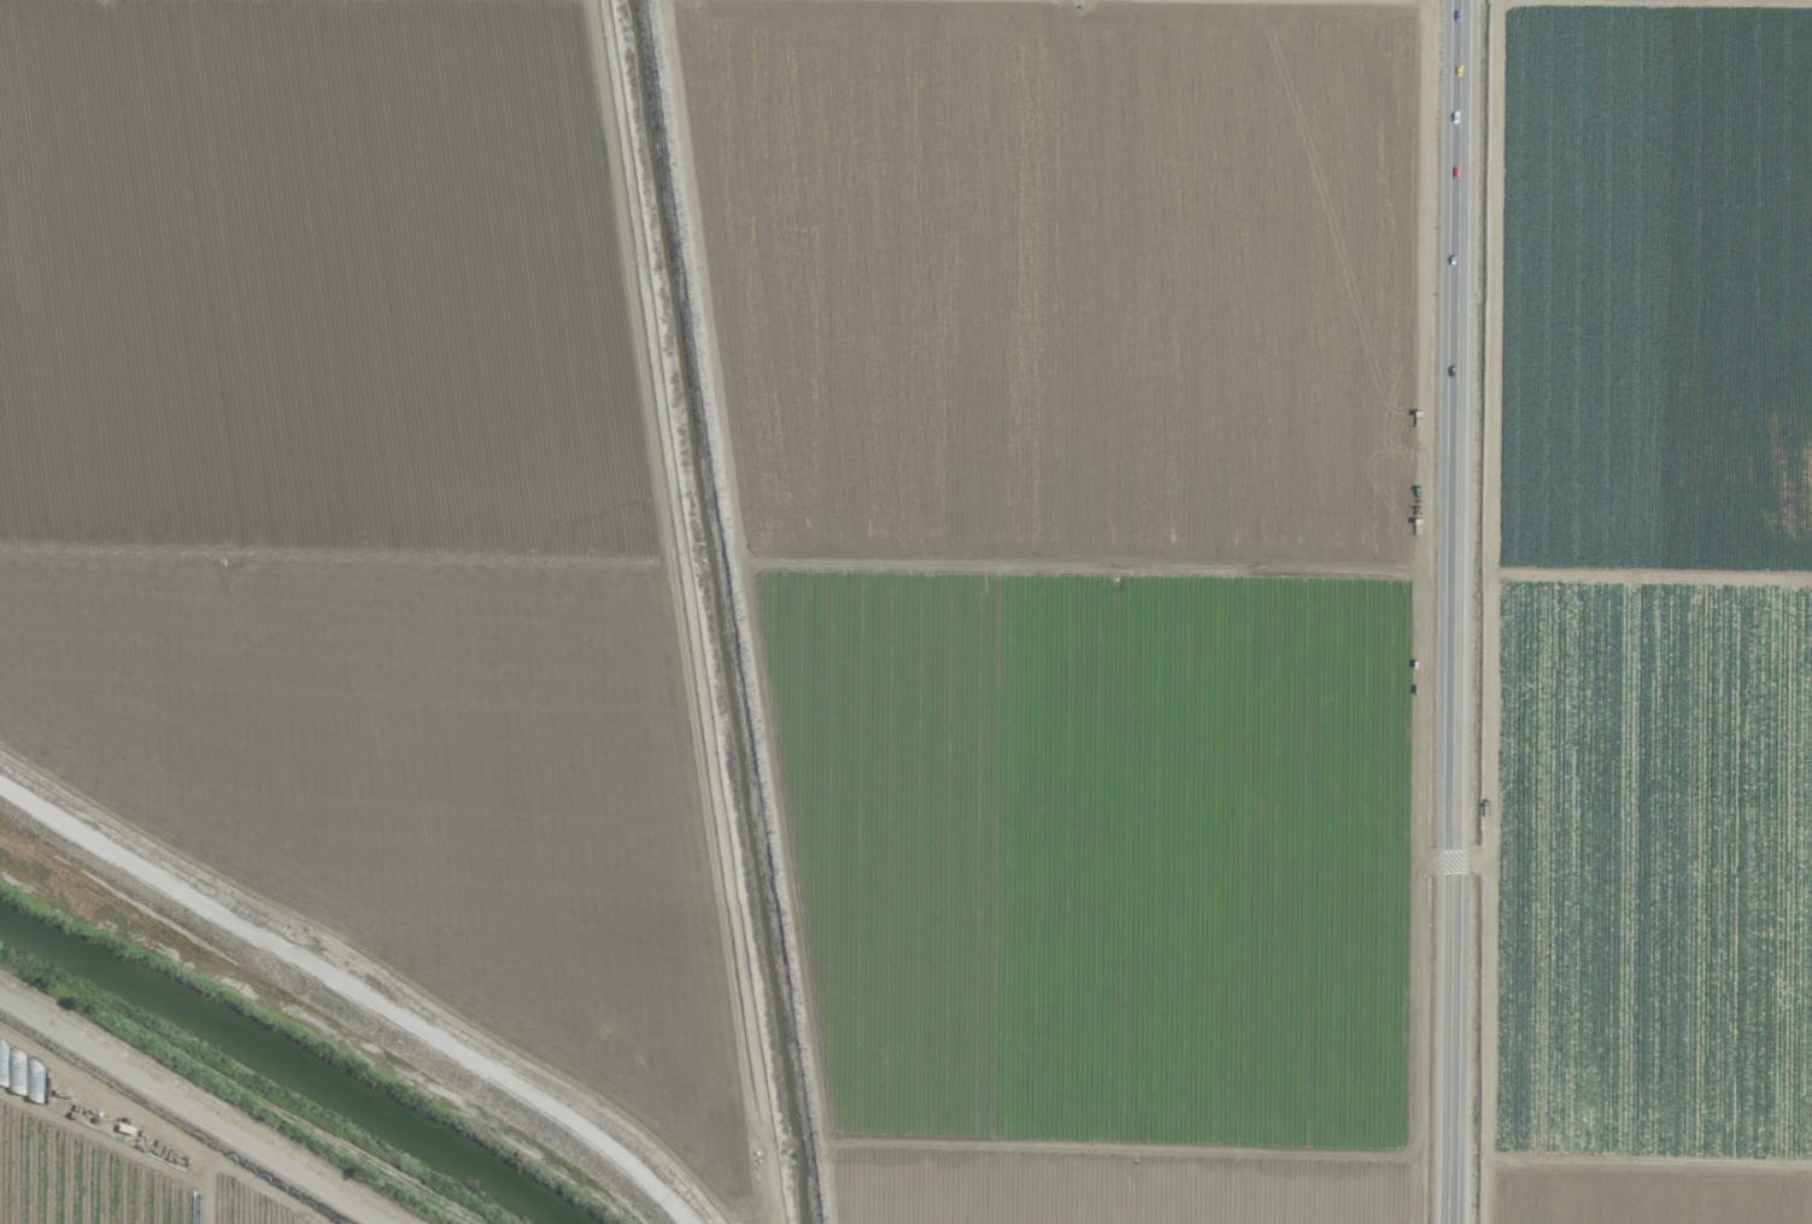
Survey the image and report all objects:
crop: (769, 560)
road: (1450, 611)
crop: (1648, 615)
road: (181, 1115)
crop: (104, 1160)

